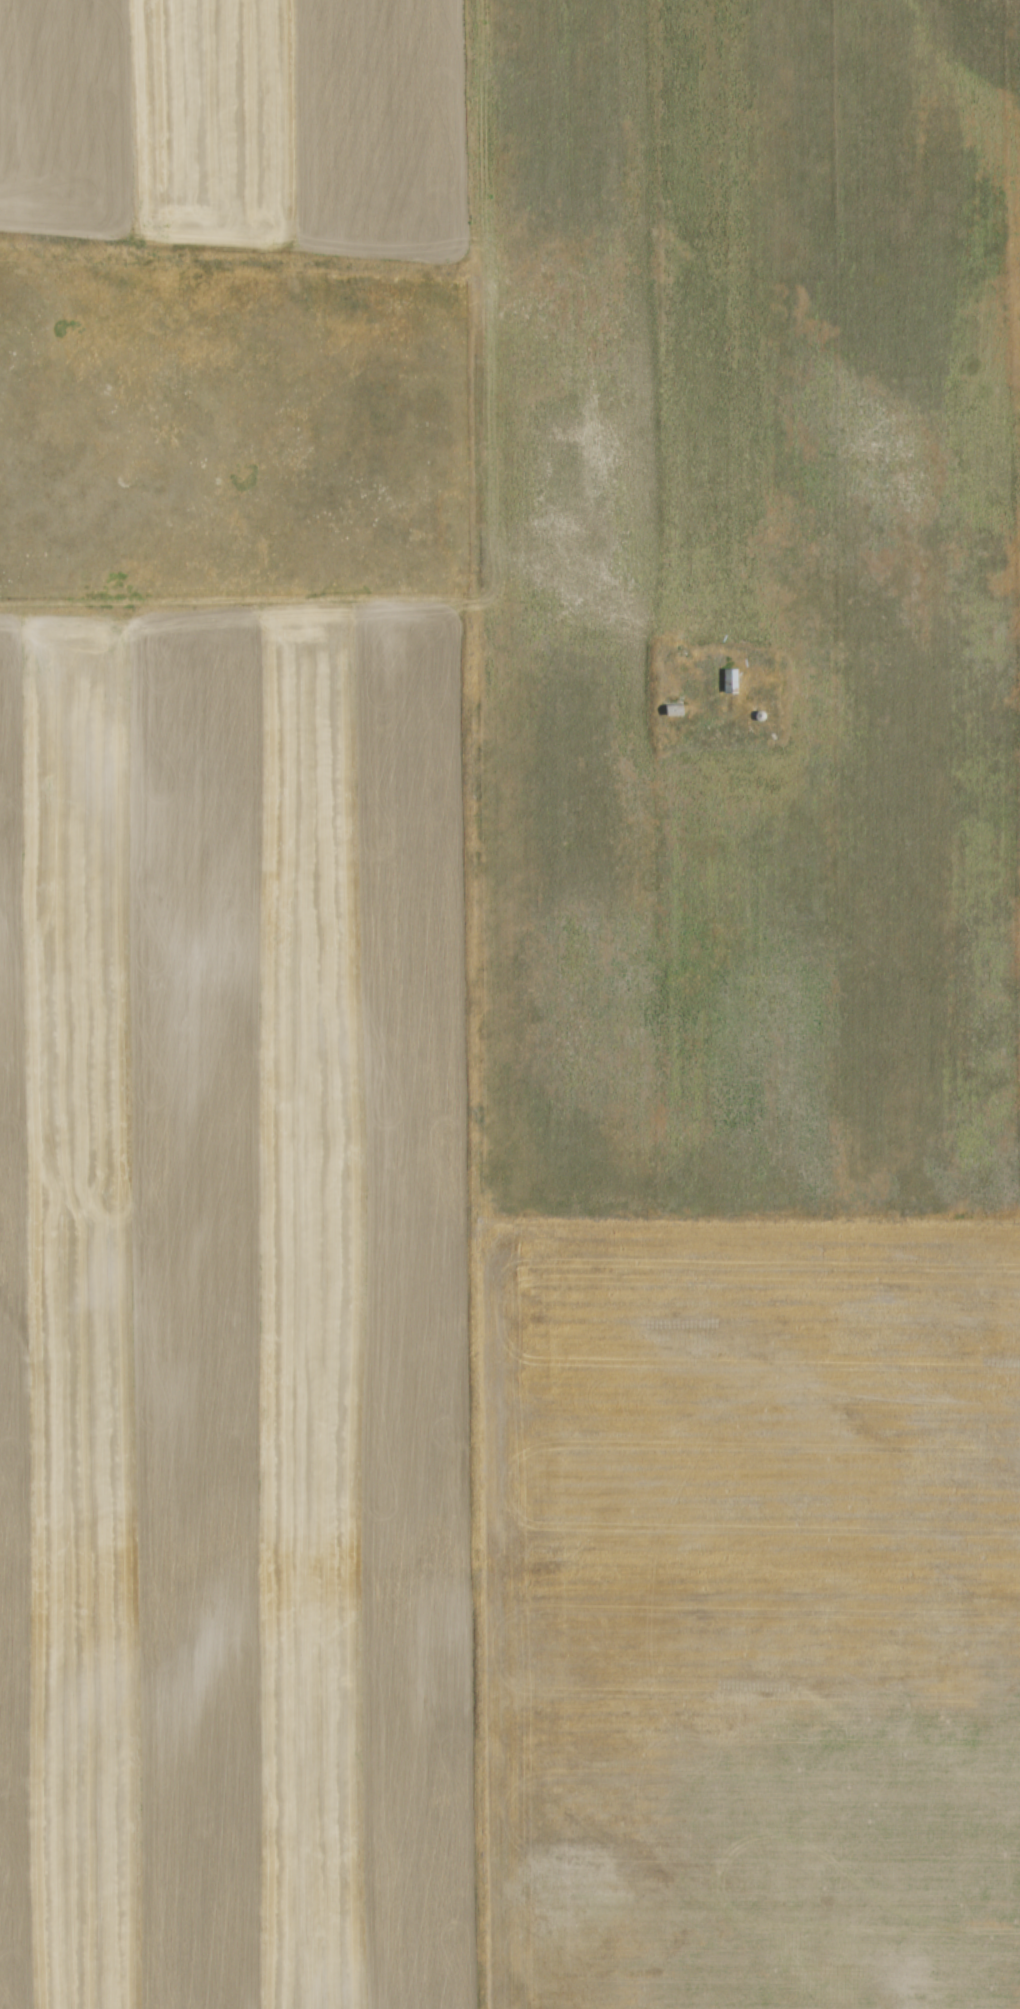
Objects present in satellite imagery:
building: (729, 680)
building: (673, 706)

